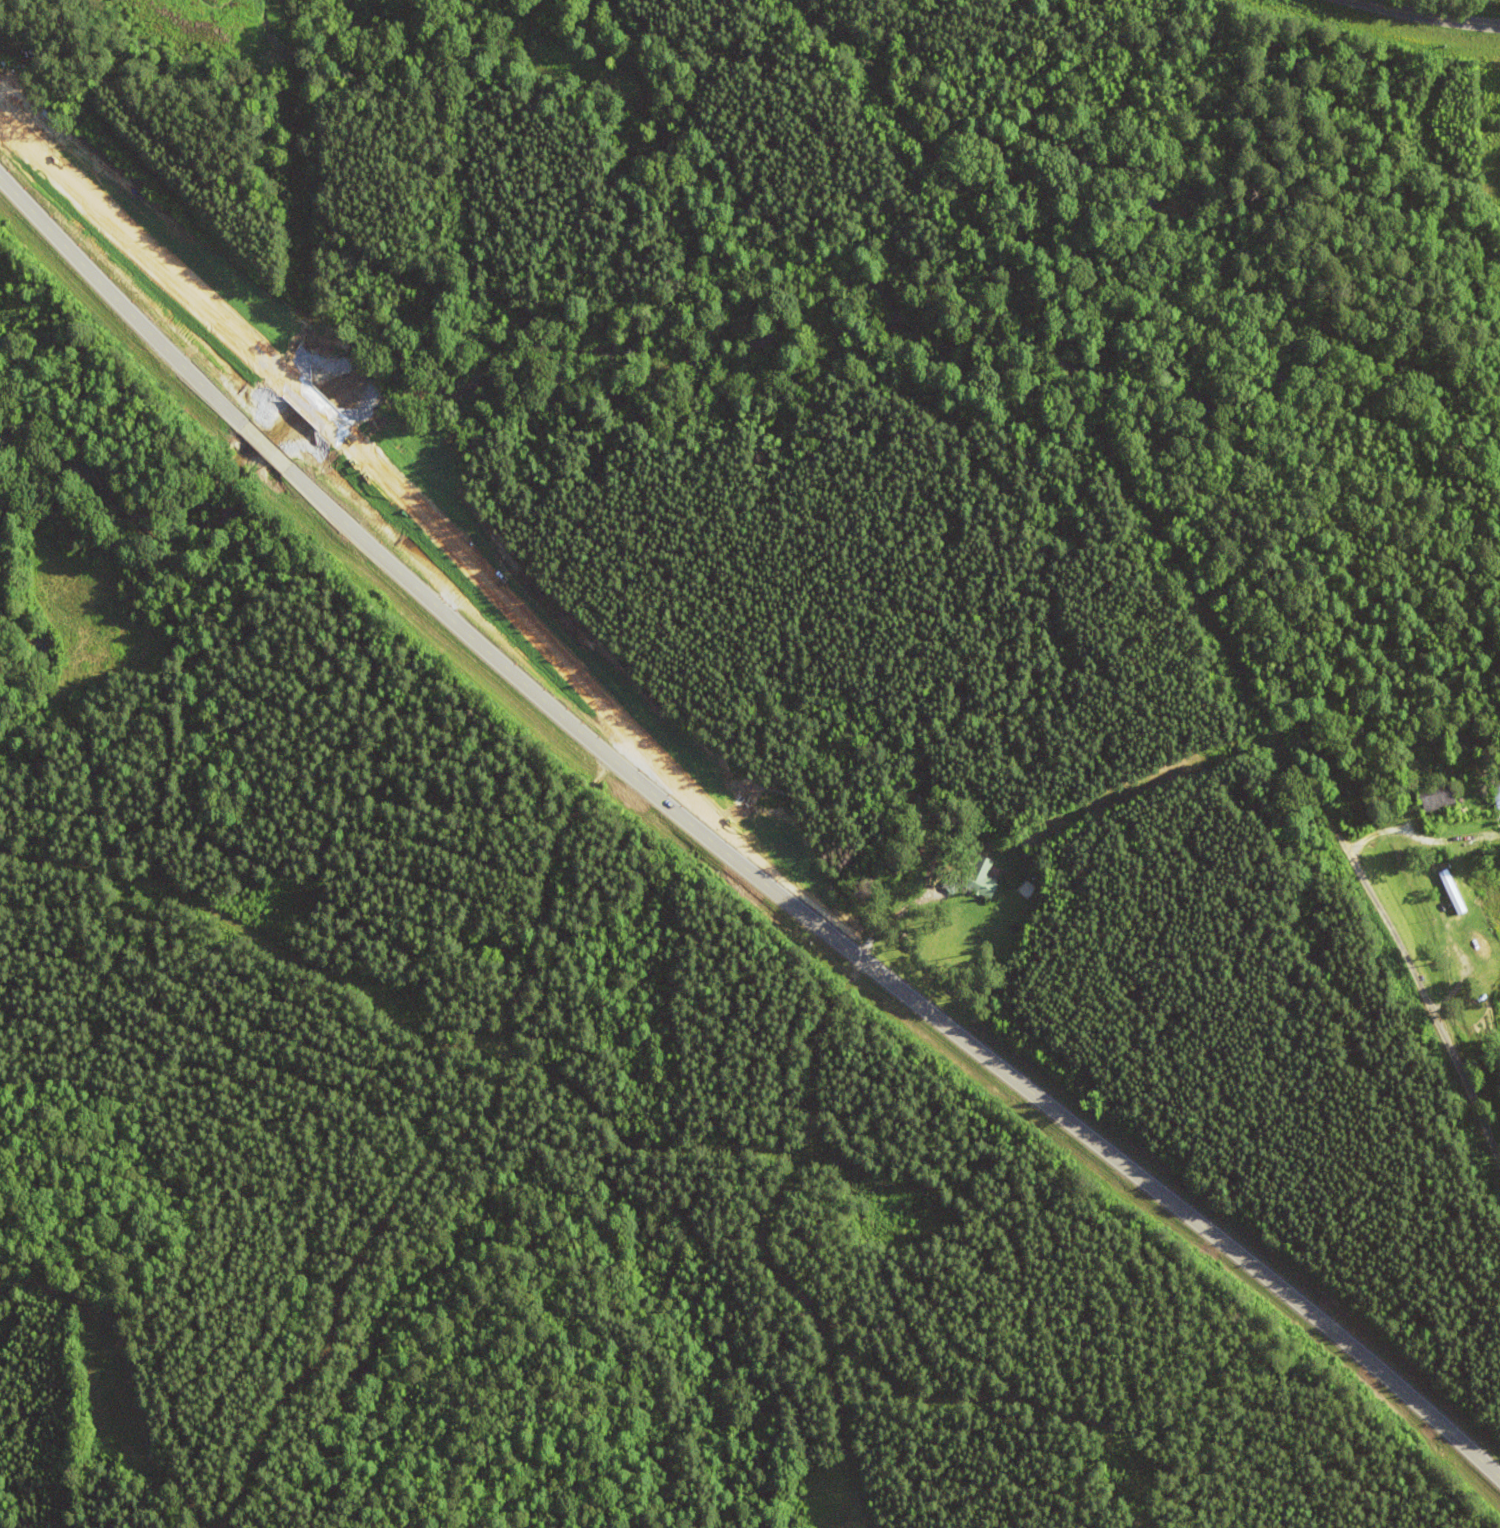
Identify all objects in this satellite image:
road: (1429, 14)
road: (1079, 406)
road: (726, 855)
road: (1431, 1010)

